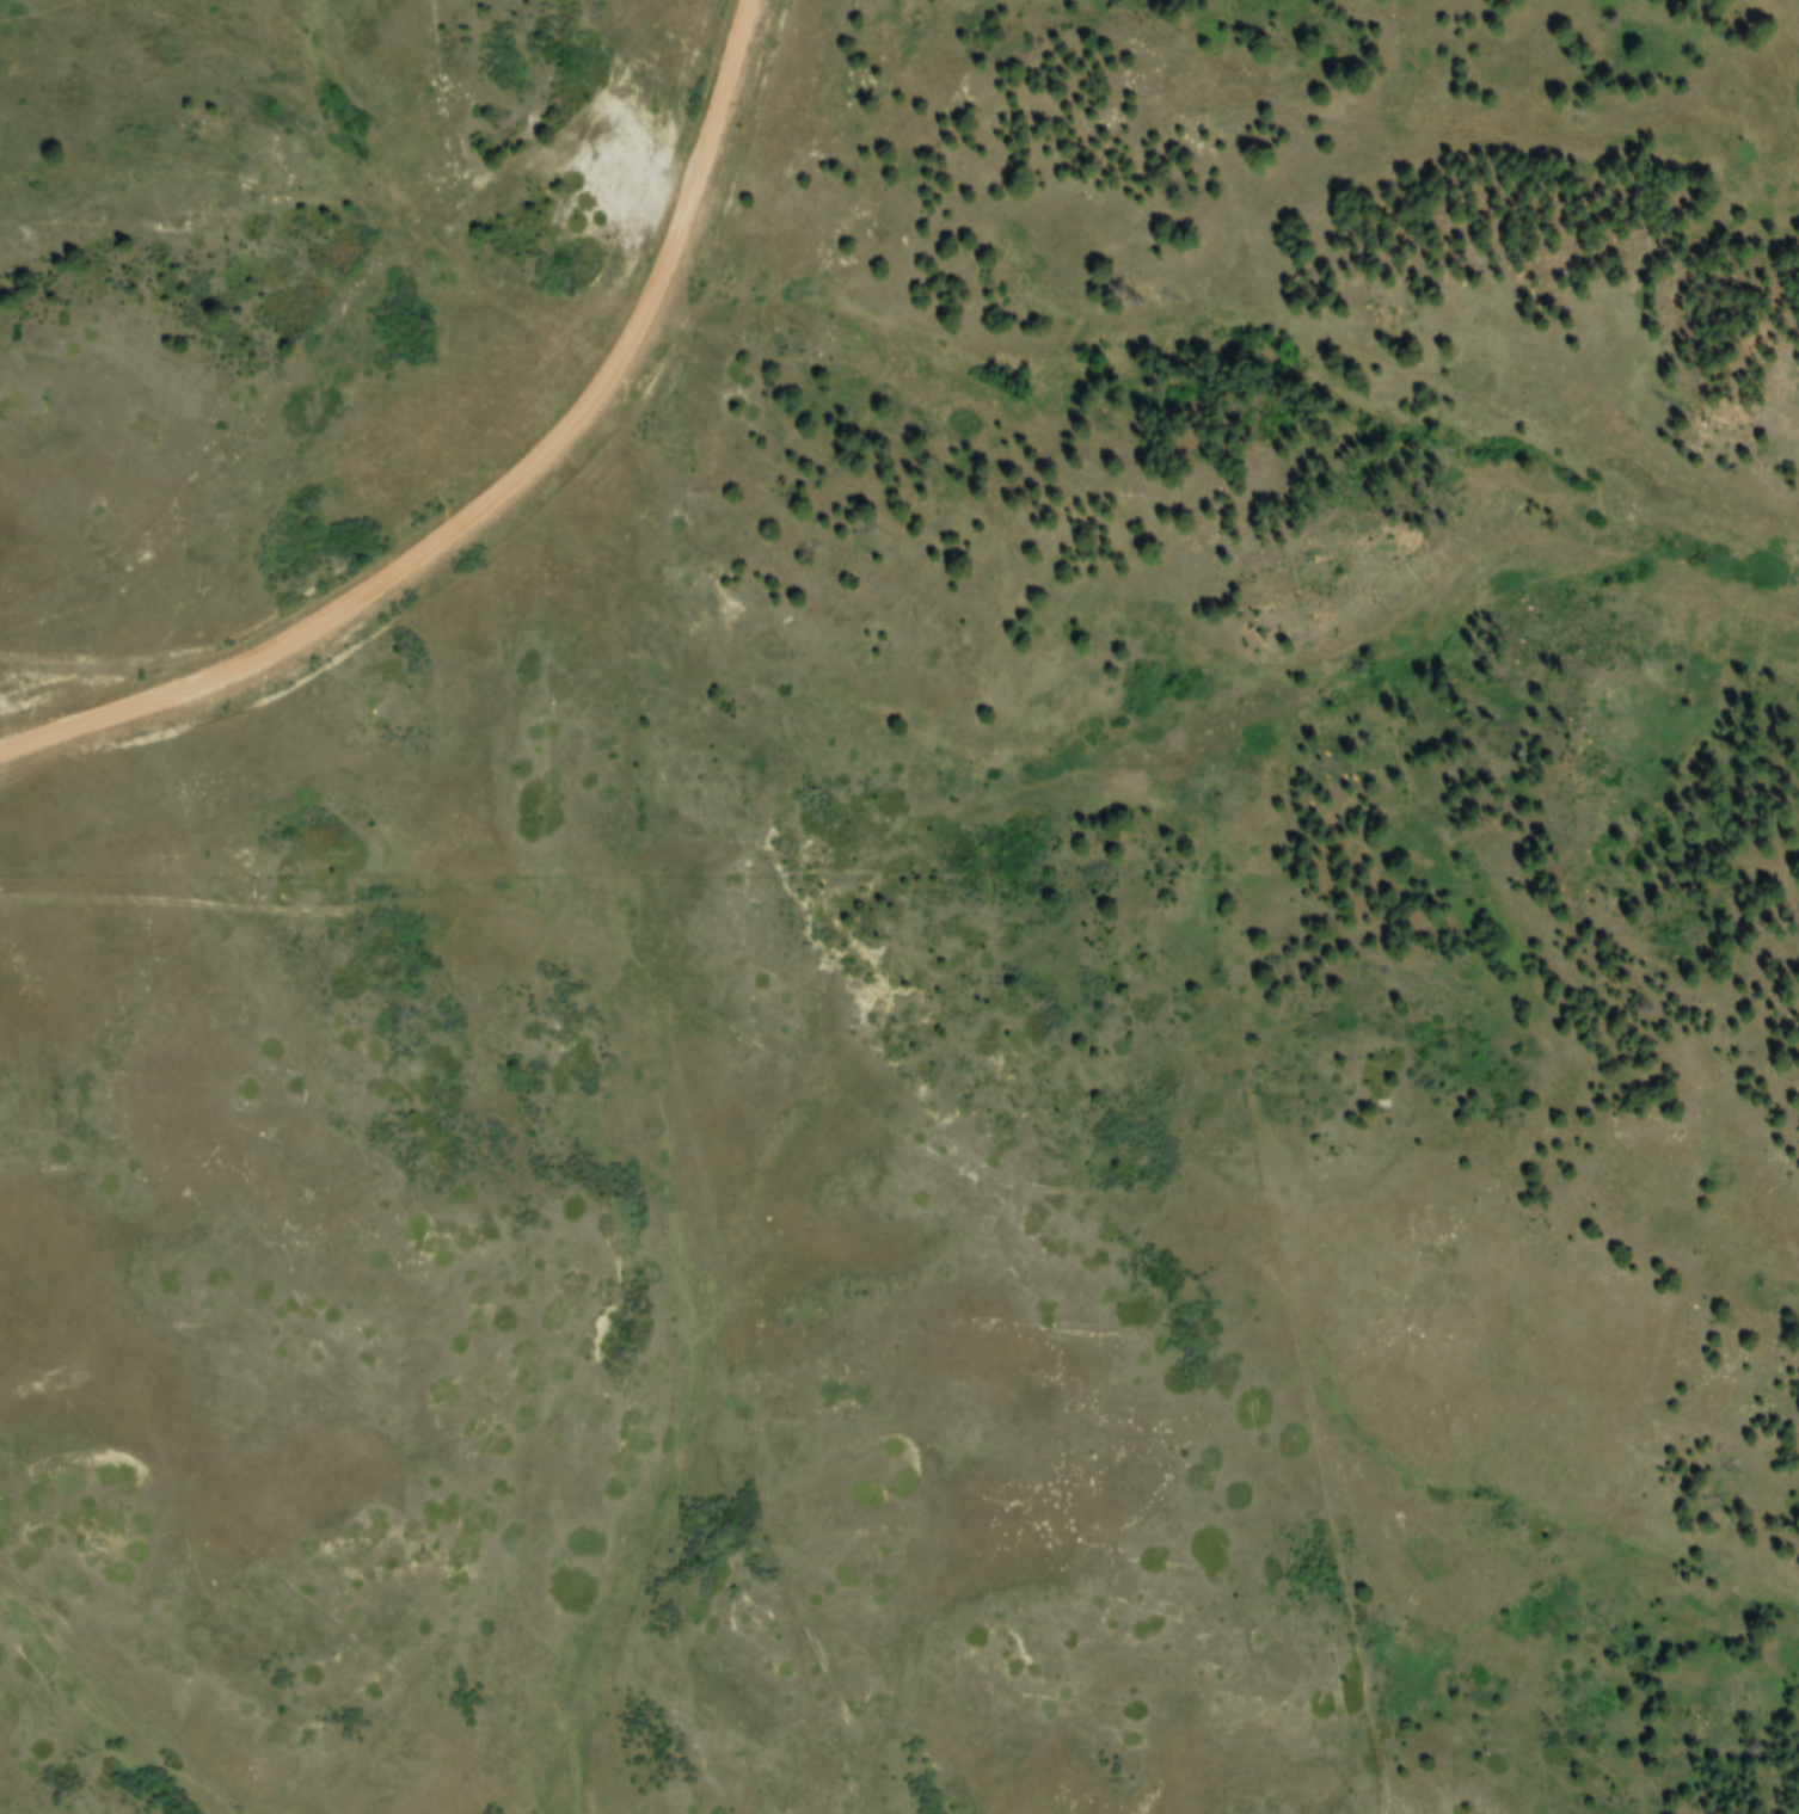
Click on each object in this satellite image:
road: (499, 494)
road: (183, 657)
road: (590, 929)

